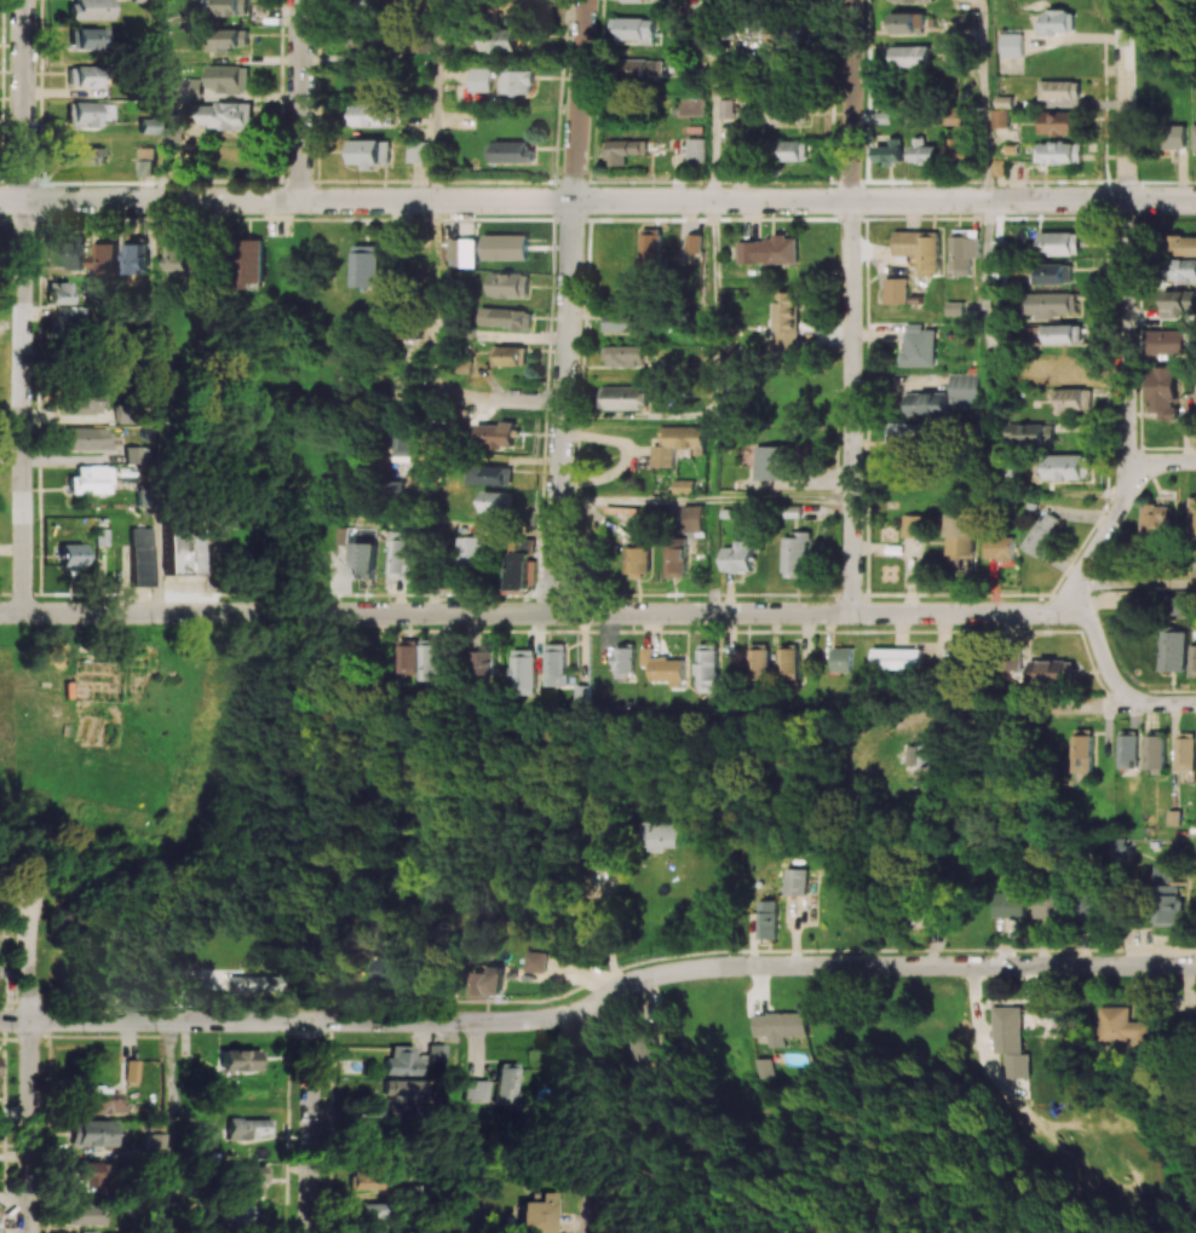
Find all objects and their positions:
building: (915, 0)
building: (513, 5)
building: (231, 7)
building: (88, 10)
building: (914, 22)
building: (1057, 22)
building: (640, 29)
building: (87, 38)
building: (505, 39)
building: (229, 40)
building: (1012, 44)
building: (916, 54)
building: (645, 69)
building: (84, 76)
building: (228, 77)
building: (482, 79)
building: (518, 81)
building: (194, 86)
building: (849, 86)
building: (174, 90)
building: (1060, 90)
road: (162, 99)
road: (299, 99)
road: (433, 99)
road: (714, 100)
building: (726, 109)
building: (790, 110)
building: (88, 113)
building: (372, 114)
building: (225, 115)
building: (1001, 117)
building: (1063, 122)
building: (146, 126)
building: (173, 127)
building: (1175, 136)
building: (1195, 136)
building: (696, 149)
building: (793, 149)
building: (960, 149)
building: (625, 150)
building: (418, 151)
building: (511, 151)
building: (892, 151)
building: (925, 151)
building: (1062, 151)
building: (369, 152)
building: (88, 156)
building: (146, 161)
road: (597, 201)
building: (695, 242)
building: (1062, 242)
building: (1184, 244)
building: (507, 247)
building: (651, 248)
building: (920, 248)
road: (990, 248)
building: (782, 249)
building: (464, 252)
building: (751, 252)
building: (964, 253)
building: (74, 255)
building: (180, 255)
building: (108, 258)
building: (138, 258)
road: (1126, 260)
building: (252, 263)
building: (366, 265)
building: (1184, 270)
building: (1054, 273)
building: (510, 284)
building: (897, 289)
building: (58, 293)
road: (431, 298)
building: (1179, 303)
building: (1056, 304)
road: (24, 306)
road: (851, 306)
road: (568, 307)
building: (956, 307)
building: (506, 317)
building: (621, 321)
building: (786, 322)
building: (1068, 333)
building: (1171, 341)
building: (919, 346)
road: (714, 350)
building: (511, 355)
building: (625, 355)
building: (964, 387)
building: (1165, 391)
road: (468, 397)
building: (625, 397)
building: (1075, 399)
building: (84, 401)
building: (926, 403)
road: (161, 407)
building: (495, 433)
building: (908, 433)
building: (1030, 433)
building: (87, 438)
building: (401, 442)
building: (677, 443)
building: (431, 449)
building: (134, 454)
building: (772, 461)
road: (1163, 462)
building: (1070, 466)
building: (489, 474)
building: (92, 479)
road: (921, 497)
road: (782, 499)
building: (498, 500)
road: (636, 500)
building: (1194, 517)
building: (692, 518)
building: (1156, 522)
building: (913, 525)
road: (450, 529)
building: (960, 534)
building: (1043, 534)
road: (1104, 534)
building: (1000, 547)
building: (185, 549)
building: (470, 551)
building: (397, 553)
building: (71, 554)
building: (795, 554)
building: (142, 555)
building: (737, 557)
building: (675, 558)
building: (364, 559)
building: (637, 560)
building: (516, 565)
building: (415, 567)
road: (1133, 586)
building: (1178, 605)
road: (542, 615)
road: (1100, 649)
building: (1173, 650)
building: (407, 656)
building: (625, 658)
building: (759, 658)
building: (843, 658)
building: (897, 658)
building: (429, 659)
building: (789, 659)
building: (1192, 659)
building: (665, 667)
building: (708, 668)
building: (523, 670)
building: (1052, 672)
building: (563, 674)
road: (1166, 704)
road: (1005, 708)
building: (1128, 749)
building: (1186, 750)
building: (1155, 751)
building: (1082, 753)
building: (921, 756)
road: (1138, 832)
building: (650, 835)
building: (794, 881)
road: (596, 903)
building: (1008, 904)
building: (1091, 904)
building: (1051, 906)
building: (926, 910)
building: (769, 918)
building: (232, 950)
building: (533, 961)
building: (389, 976)
building: (253, 983)
road: (598, 998)
building: (778, 1026)
building: (1126, 1026)
building: (1010, 1041)
building: (639, 1044)
building: (438, 1053)
building: (241, 1060)
building: (402, 1061)
road: (30, 1062)
building: (0, 1067)
building: (758, 1067)
building: (132, 1070)
building: (508, 1082)
building: (402, 1090)
building: (478, 1090)
building: (104, 1100)
road: (171, 1127)
road: (314, 1127)
building: (248, 1128)
building: (94, 1133)
building: (154, 1147)
building: (88, 1172)
building: (364, 1179)
building: (247, 1180)
building: (86, 1214)
building: (367, 1214)
building: (541, 1214)
road: (594, 1216)
building: (237, 1217)

